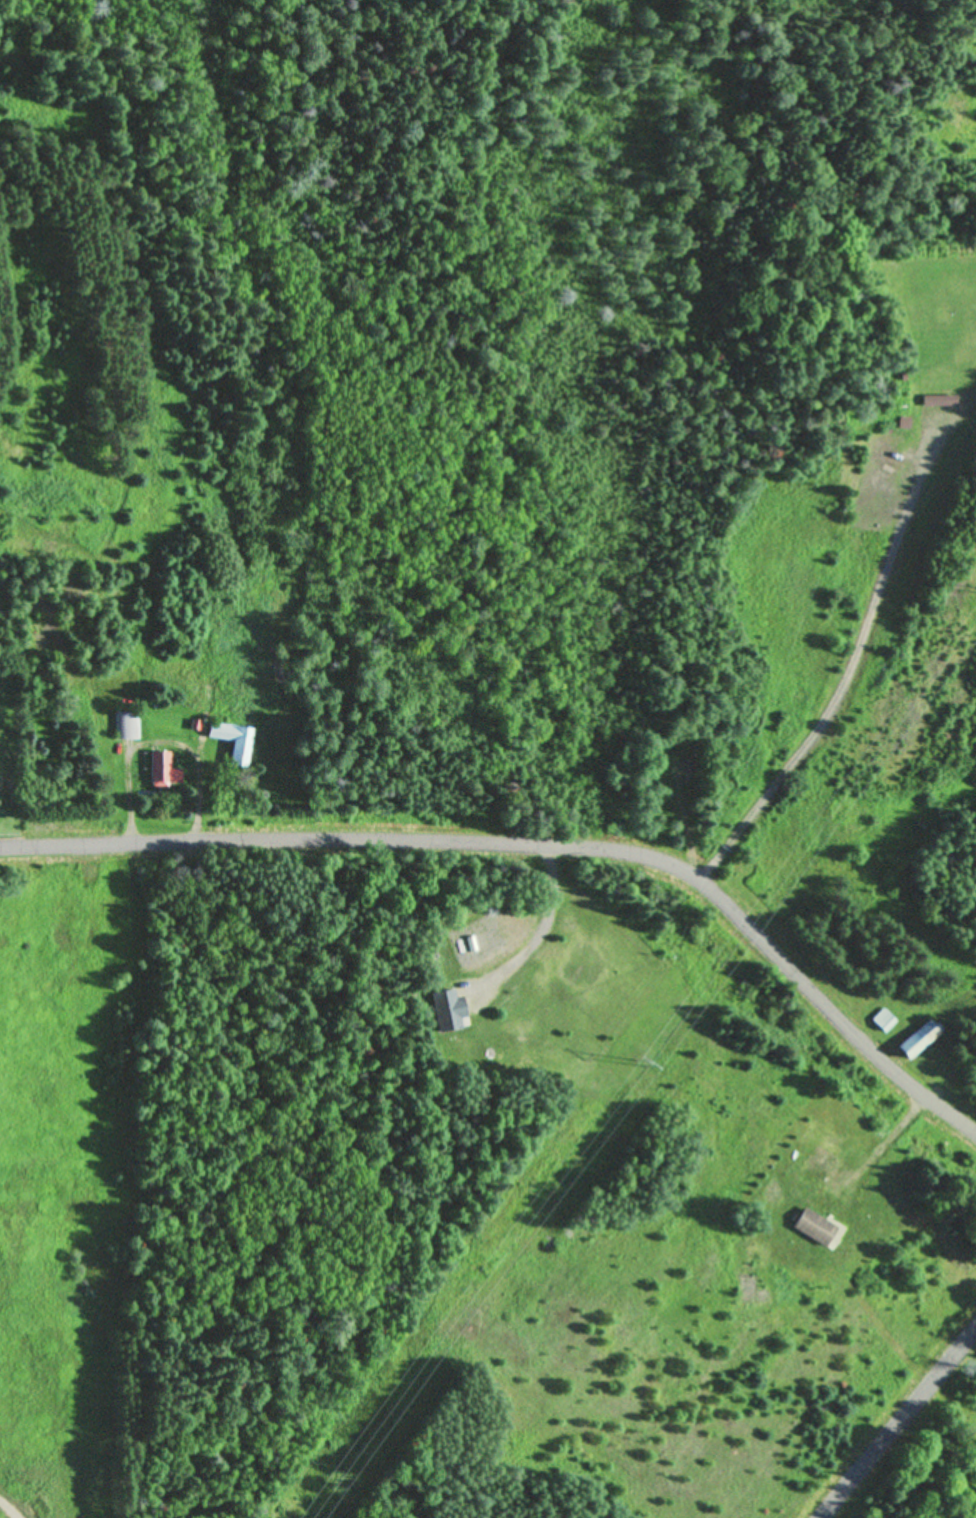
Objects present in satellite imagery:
building: (939, 402)
park: (639, 422)
building: (207, 706)
building: (127, 727)
building: (233, 743)
building: (163, 772)
road: (542, 843)
building: (447, 1012)
building: (883, 1022)
building: (918, 1040)
power tower: (642, 1066)
building: (814, 1229)
road: (902, 1427)

